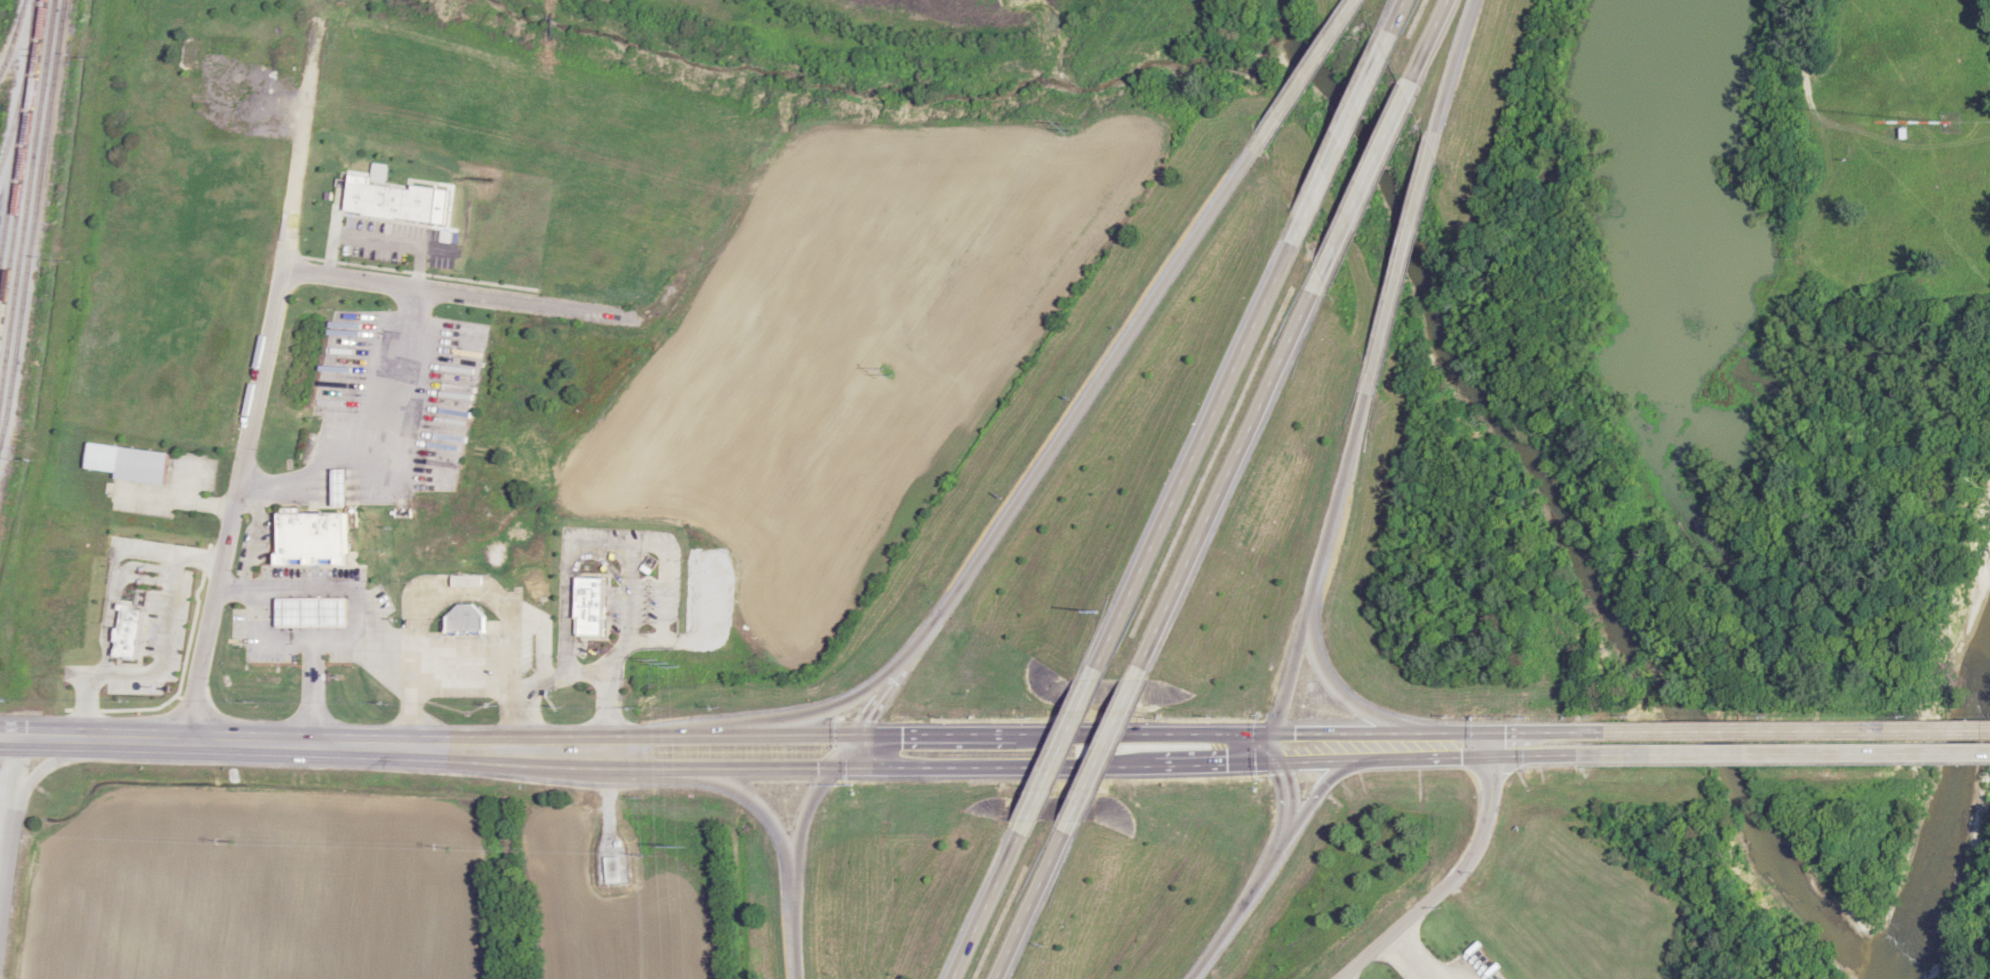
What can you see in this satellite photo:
railway: (29, 15)
road: (1395, 23)
railway: (12, 33)
road: (1432, 41)
road: (1307, 70)
road: (1455, 73)
railway: (11, 118)
railway: (16, 121)
power tower: (1072, 130)
road: (1342, 138)
road: (1369, 178)
railway: (32, 218)
road: (388, 228)
road: (1401, 262)
road: (266, 372)
road: (1094, 387)
road: (373, 435)
road: (1199, 450)
road: (1231, 478)
building: (343, 487)
river: (1542, 496)
building: (314, 536)
road: (1322, 557)
road: (204, 560)
road: (177, 587)
road: (365, 607)
building: (313, 611)
building: (465, 617)
building: (136, 633)
road: (354, 650)
road: (313, 651)
power tower: (673, 665)
road: (491, 667)
building: (466, 671)
road: (592, 676)
road: (893, 684)
road: (1336, 690)
road: (836, 705)
traffic signals: (867, 719)
road: (1782, 731)
traffic signals: (1294, 733)
road: (1048, 734)
traffic signals: (900, 736)
road: (260, 745)
road: (1266, 748)
road: (1105, 751)
road: (847, 752)
road: (1060, 753)
building: (1594, 754)
road: (1781, 756)
traffic signals: (1217, 762)
road: (1046, 766)
traffic signals: (816, 768)
traffic signals: (1281, 775)
road: (1316, 789)
road: (1287, 804)
road: (761, 813)
road: (10, 816)
river: (1944, 822)
power tower: (677, 847)
road: (793, 867)
building: (613, 870)
road: (1454, 876)
road: (1035, 900)
road: (989, 907)
road: (1231, 916)
road: (1413, 956)
road: (1489, 975)

